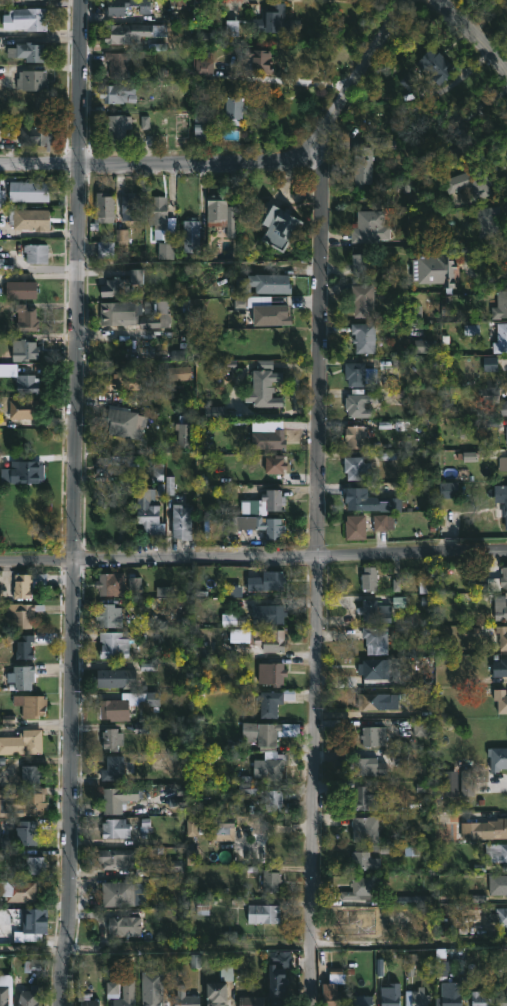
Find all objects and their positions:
building: (32, 0)
building: (127, 6)
building: (30, 19)
building: (268, 22)
road: (475, 32)
building: (129, 33)
building: (30, 52)
building: (256, 61)
building: (117, 63)
building: (435, 64)
building: (204, 69)
road: (194, 80)
road: (302, 80)
building: (33, 81)
building: (119, 94)
building: (234, 110)
building: (201, 127)
building: (118, 128)
building: (36, 136)
road: (243, 160)
building: (363, 166)
building: (471, 182)
building: (31, 191)
building: (2, 193)
building: (131, 206)
building: (104, 209)
building: (221, 213)
building: (158, 215)
building: (32, 218)
building: (488, 219)
building: (275, 224)
building: (371, 226)
building: (191, 234)
building: (106, 250)
building: (34, 252)
road: (465, 260)
building: (362, 265)
building: (437, 268)
building: (122, 283)
building: (269, 283)
building: (18, 289)
building: (362, 298)
building: (500, 305)
building: (268, 309)
building: (115, 311)
building: (156, 315)
building: (26, 317)
building: (365, 333)
building: (501, 339)
building: (24, 349)
building: (354, 374)
building: (180, 375)
building: (126, 379)
building: (26, 381)
building: (265, 388)
building: (359, 404)
building: (504, 408)
building: (27, 410)
building: (123, 421)
building: (184, 435)
building: (356, 435)
building: (269, 439)
building: (503, 463)
building: (112, 464)
building: (275, 464)
building: (357, 467)
building: (21, 472)
building: (448, 492)
building: (271, 501)
building: (371, 501)
building: (501, 501)
road: (73, 503)
building: (147, 515)
building: (183, 521)
building: (264, 525)
building: (356, 526)
road: (253, 558)
road: (318, 567)
building: (369, 578)
building: (503, 578)
building: (266, 582)
building: (27, 583)
building: (106, 583)
building: (500, 607)
building: (377, 610)
building: (22, 613)
building: (270, 614)
building: (110, 615)
building: (502, 636)
building: (270, 639)
building: (376, 639)
building: (118, 642)
building: (24, 647)
building: (500, 666)
building: (377, 672)
building: (276, 674)
building: (22, 677)
building: (119, 678)
building: (501, 700)
building: (373, 701)
building: (273, 703)
building: (126, 705)
building: (33, 706)
building: (268, 734)
building: (373, 736)
building: (113, 739)
building: (23, 742)
building: (497, 758)
building: (276, 766)
building: (365, 766)
building: (116, 768)
building: (32, 774)
building: (467, 783)
building: (170, 796)
building: (363, 797)
building: (118, 798)
building: (274, 800)
building: (34, 805)
building: (116, 828)
building: (222, 829)
building: (366, 829)
building: (485, 830)
building: (27, 833)
building: (497, 852)
building: (365, 860)
building: (122, 862)
building: (35, 866)
building: (272, 881)
building: (499, 884)
building: (364, 889)
building: (18, 890)
building: (124, 894)
building: (264, 914)
building: (500, 918)
building: (353, 922)
building: (35, 924)
building: (126, 926)
road: (253, 953)
building: (280, 987)
building: (218, 994)
building: (452, 994)
building: (505, 994)
building: (126, 995)
building: (332, 995)
building: (389, 996)
building: (4, 997)
building: (28, 997)
building: (420, 997)
building: (185, 998)
building: (481, 998)
building: (153, 999)
building: (88, 1000)
building: (250, 1001)
building: (361, 1001)
building: (503, 1001)

